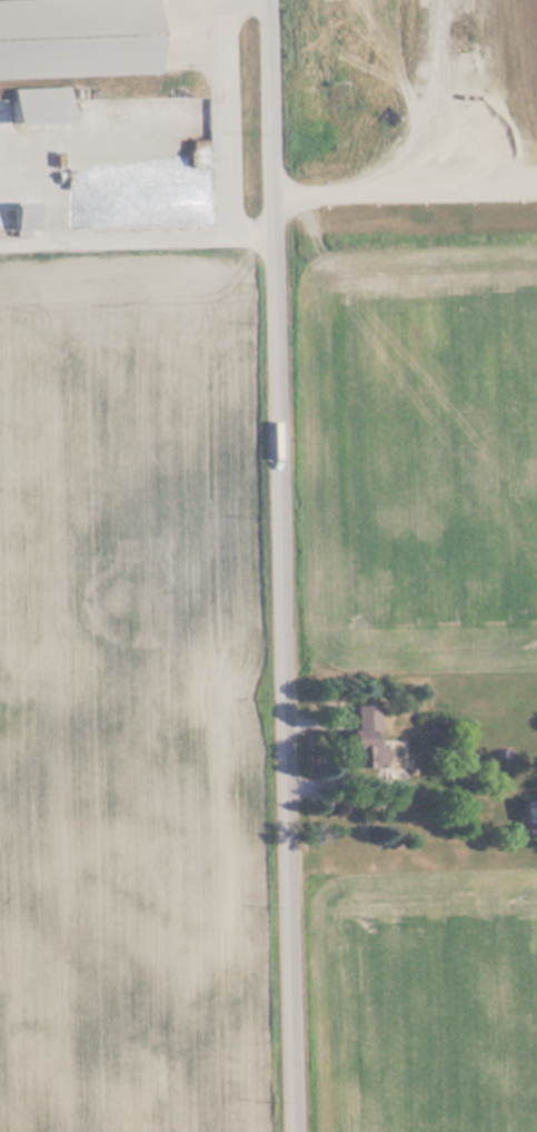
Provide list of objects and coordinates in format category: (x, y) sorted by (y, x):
road: (201, 2)
building: (77, 39)
road: (219, 112)
building: (142, 159)
road: (137, 233)
road: (282, 565)
building: (366, 741)
building: (529, 819)

